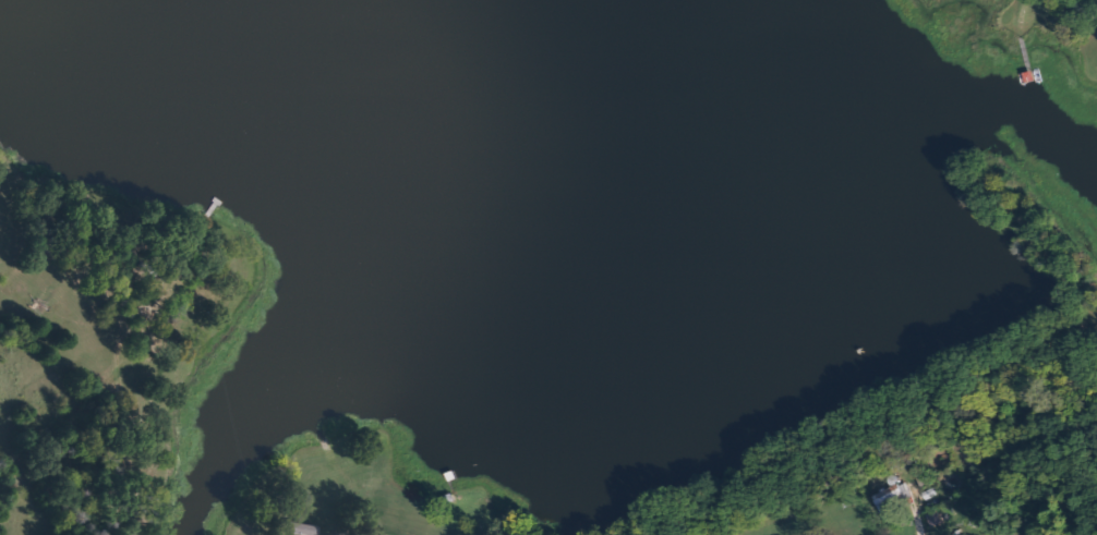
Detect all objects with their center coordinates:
road: (1086, 5)
building: (379, 445)
building: (891, 495)
road: (357, 525)

